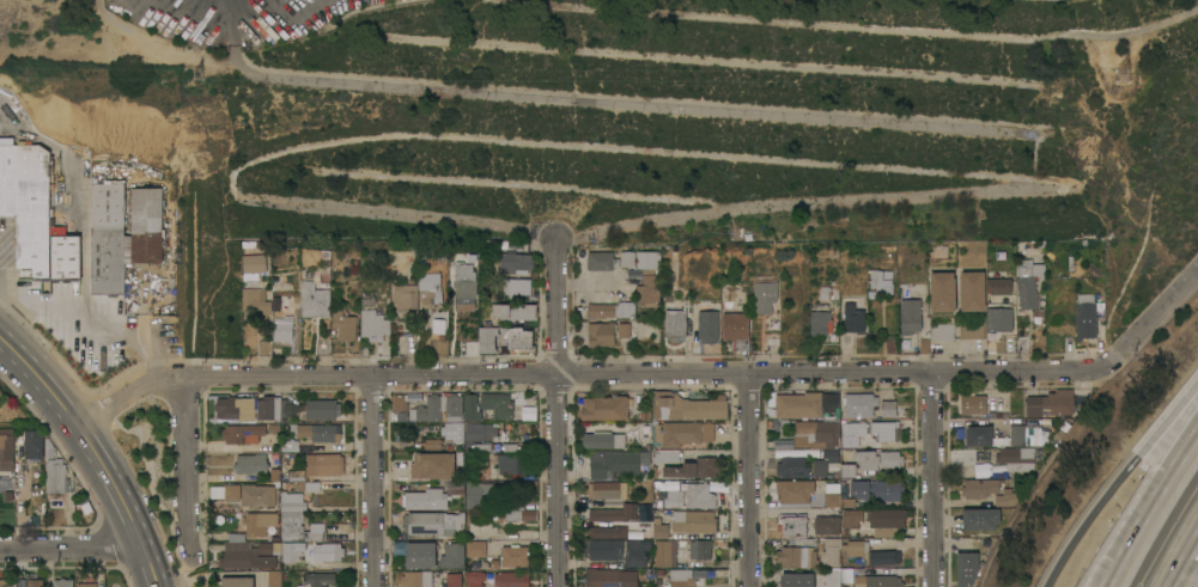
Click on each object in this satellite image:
road: (224, 2)
road: (583, 102)
building: (5, 140)
building: (26, 209)
building: (145, 227)
building: (108, 238)
building: (671, 256)
building: (65, 257)
building: (627, 258)
building: (649, 259)
building: (516, 261)
building: (600, 261)
building: (255, 263)
building: (882, 280)
building: (1028, 282)
building: (464, 283)
building: (517, 286)
building: (1001, 286)
building: (431, 288)
building: (649, 289)
building: (972, 291)
building: (829, 292)
building: (943, 292)
building: (765, 294)
building: (315, 298)
building: (407, 300)
building: (255, 301)
building: (610, 310)
building: (515, 311)
building: (674, 314)
building: (1087, 314)
building: (911, 316)
road: (93, 317)
building: (853, 318)
building: (823, 319)
building: (999, 319)
road: (1148, 320)
building: (345, 324)
building: (707, 324)
building: (375, 325)
building: (646, 326)
building: (282, 329)
building: (736, 329)
building: (972, 329)
building: (624, 330)
building: (942, 331)
building: (601, 334)
building: (504, 338)
building: (323, 346)
building: (264, 348)
road: (582, 375)
building: (399, 403)
building: (972, 403)
building: (1051, 403)
building: (805, 404)
building: (859, 404)
building: (495, 405)
building: (686, 406)
building: (236, 408)
building: (273, 408)
building: (470, 408)
building: (604, 408)
building: (888, 408)
building: (320, 409)
building: (440, 409)
road: (558, 414)
building: (273, 429)
building: (317, 432)
building: (451, 432)
building: (978, 432)
building: (242, 433)
building: (682, 433)
building: (815, 434)
building: (866, 434)
building: (479, 436)
building: (1035, 436)
building: (602, 439)
building: (29, 444)
building: (288, 446)
building: (509, 447)
building: (263, 448)
road: (95, 451)
building: (6, 452)
building: (665, 455)
building: (1016, 458)
building: (876, 459)
building: (513, 463)
building: (615, 463)
building: (825, 463)
building: (249, 464)
building: (327, 464)
building: (433, 465)
road: (186, 466)
building: (695, 467)
building: (791, 467)
building: (291, 469)
building: (980, 470)
building: (847, 471)
building: (55, 475)
building: (273, 475)
road: (1117, 479)
road: (748, 481)
road: (929, 481)
road: (373, 482)
building: (980, 487)
building: (455, 489)
building: (607, 489)
building: (874, 489)
building: (795, 491)
building: (245, 494)
building: (831, 494)
building: (699, 495)
building: (670, 497)
building: (1007, 497)
building: (425, 500)
building: (499, 500)
building: (292, 501)
building: (846, 503)
road: (1151, 510)
building: (615, 513)
building: (852, 518)
building: (981, 519)
building: (694, 520)
building: (886, 521)
building: (432, 522)
building: (255, 524)
building: (792, 525)
building: (827, 525)
building: (297, 527)
building: (661, 528)
building: (604, 532)
building: (856, 546)
road: (69, 548)
building: (267, 548)
building: (476, 549)
building: (603, 549)
building: (700, 549)
building: (290, 551)
building: (330, 551)
building: (829, 551)
building: (637, 552)
building: (665, 552)
building: (798, 552)
building: (420, 555)
building: (452, 555)
building: (515, 556)
building: (886, 558)
building: (237, 560)
building: (967, 568)
building: (881, 570)
road: (1191, 574)
building: (612, 577)
building: (832, 577)
building: (274, 579)
building: (316, 579)
building: (415, 579)
building: (473, 579)
building: (511, 579)
building: (679, 579)
building: (451, 580)
building: (796, 580)
building: (877, 581)
building: (6, 582)
building: (35, 582)
building: (61, 582)
building: (236, 582)
building: (86, 585)

